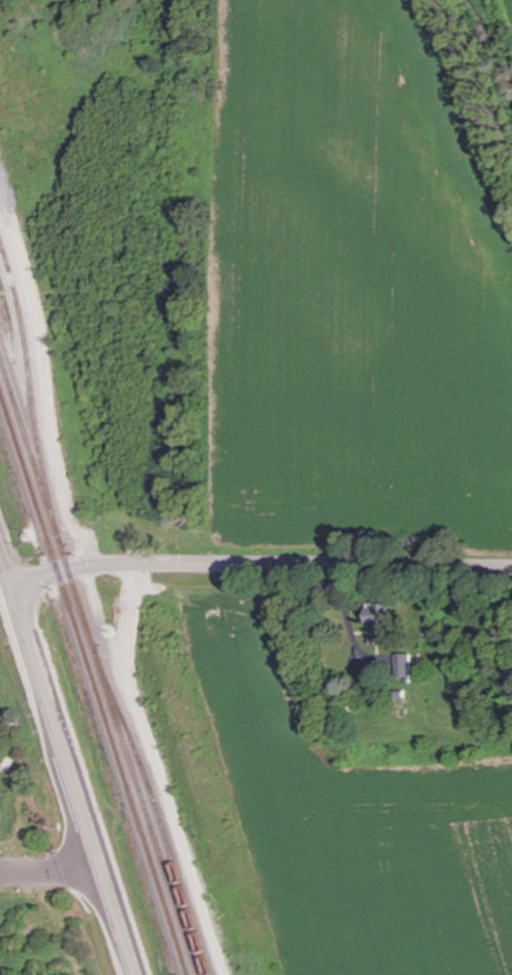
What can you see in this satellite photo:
crop: (507, 14)
crop: (355, 288)
railway: (29, 398)
road: (258, 565)
building: (378, 617)
building: (400, 665)
railway: (98, 667)
railway: (93, 683)
road: (66, 767)
road: (157, 771)
railway: (155, 808)
crop: (346, 823)
road: (50, 874)

